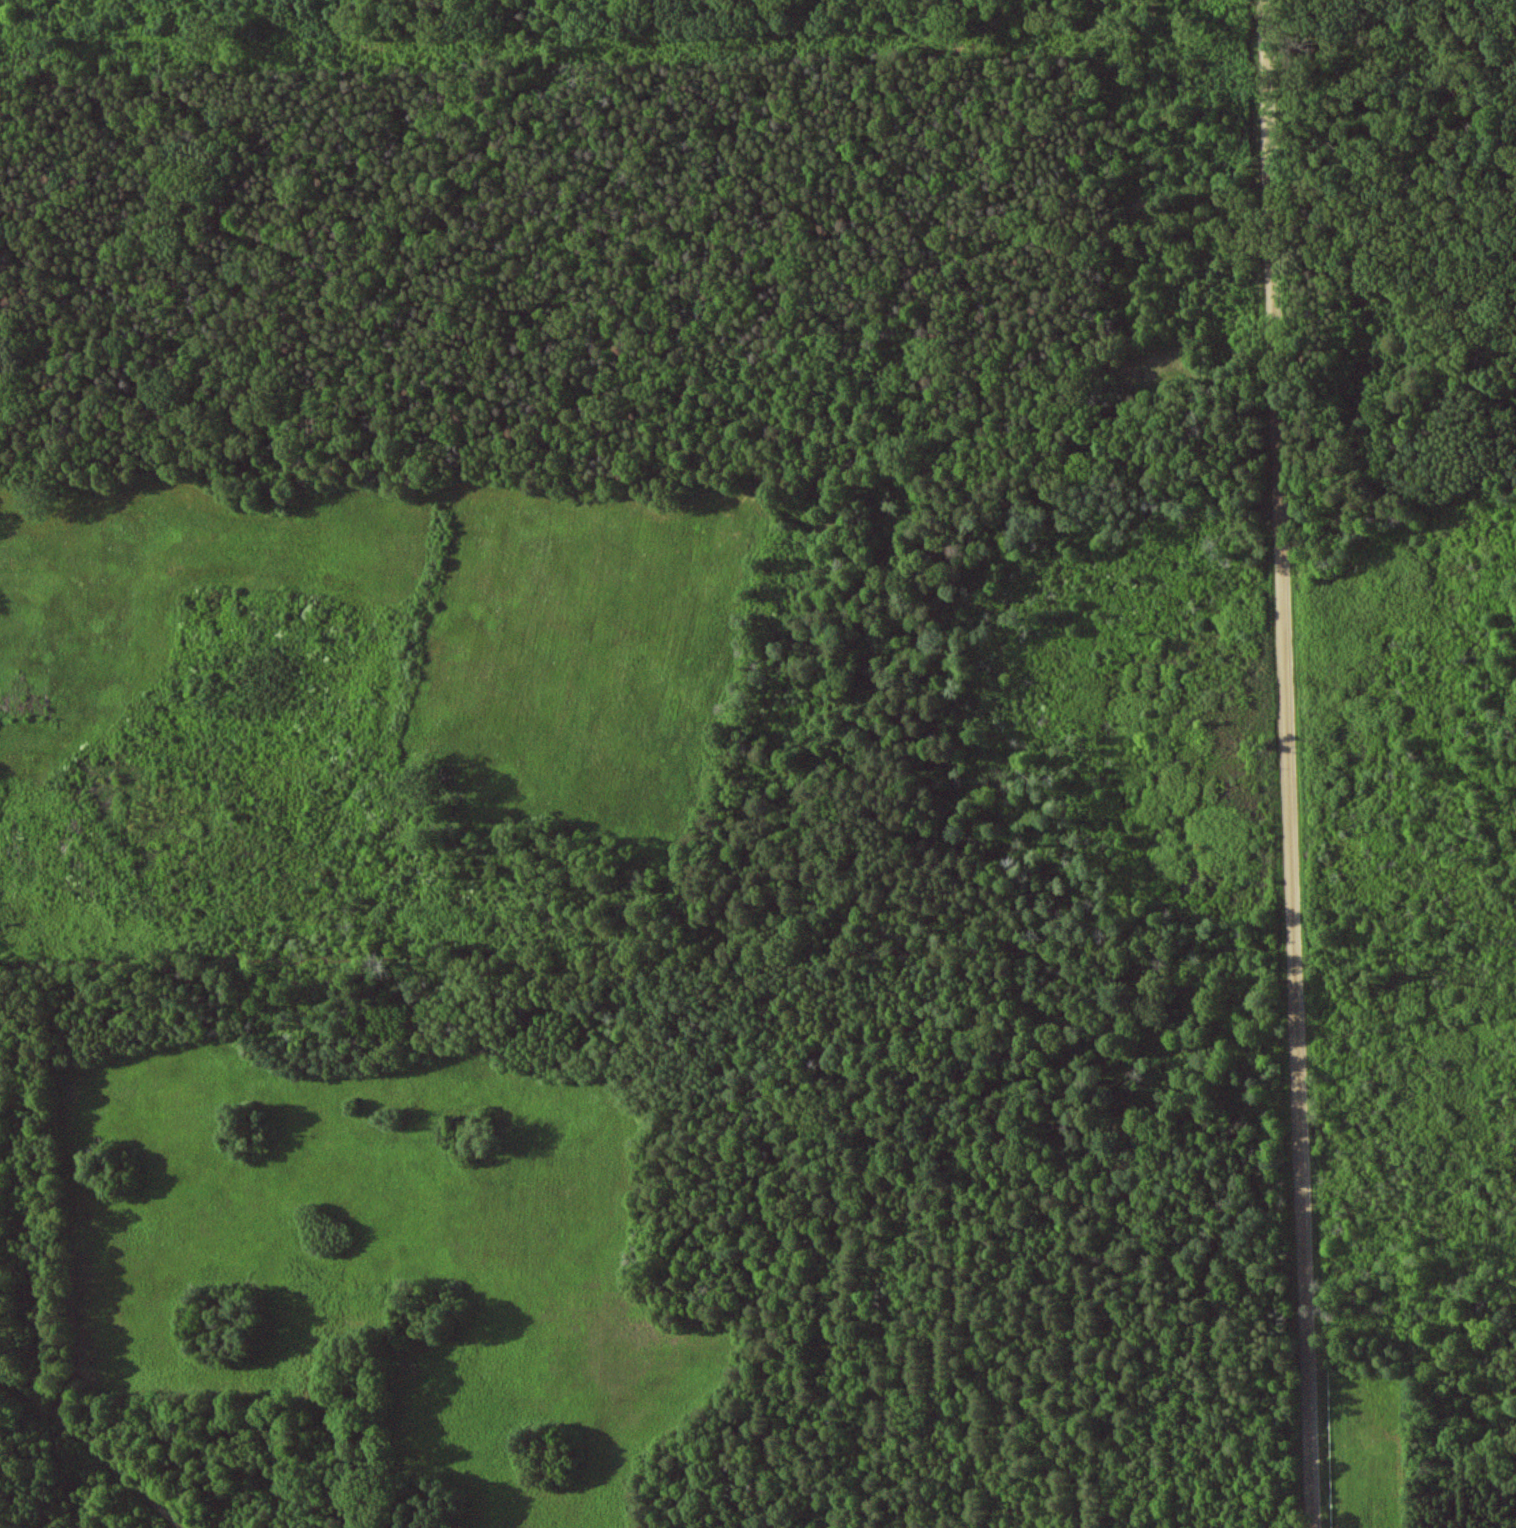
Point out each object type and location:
road: (1289, 763)

